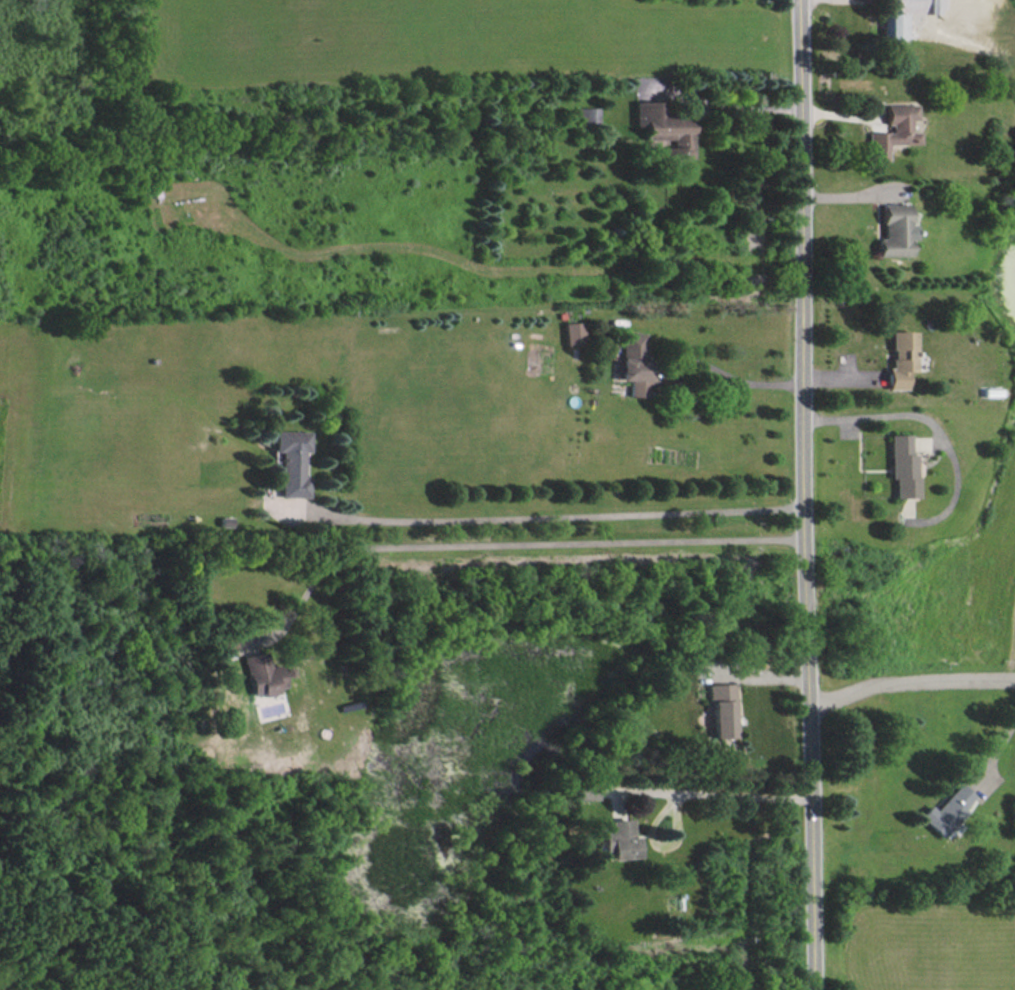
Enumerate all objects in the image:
building: (902, 14)
road: (719, 103)
building: (587, 115)
building: (893, 130)
building: (897, 230)
building: (573, 332)
building: (901, 358)
building: (635, 361)
road: (744, 381)
road: (932, 423)
building: (291, 461)
building: (903, 465)
road: (805, 495)
road: (558, 516)
road: (531, 543)
building: (223, 648)
building: (261, 674)
road: (909, 681)
building: (721, 709)
road: (998, 750)
building: (584, 790)
road: (711, 791)
building: (947, 809)
building: (616, 839)

